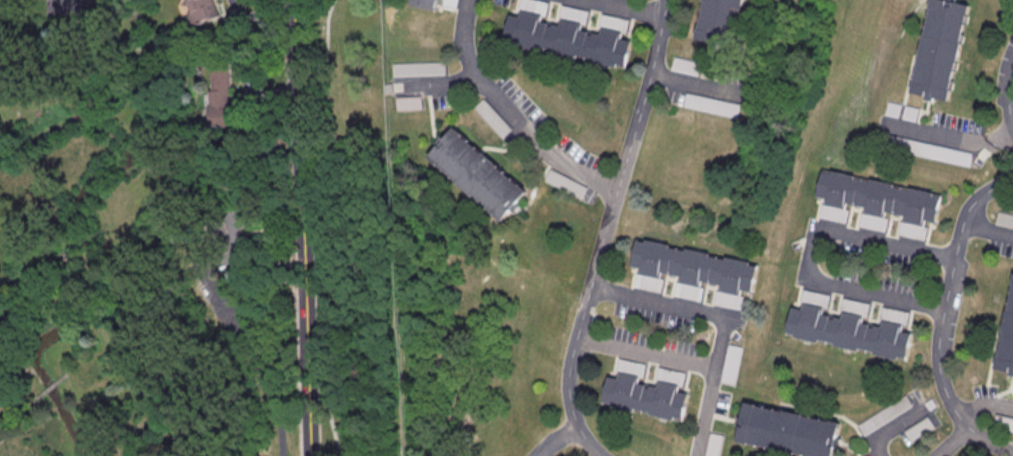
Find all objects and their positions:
building: (424, 4)
road: (622, 7)
building: (200, 10)
building: (718, 22)
building: (565, 40)
building: (937, 49)
building: (683, 66)
road: (693, 84)
building: (219, 92)
road: (1006, 95)
building: (709, 106)
building: (891, 109)
road: (510, 113)
building: (908, 113)
building: (492, 117)
road: (948, 139)
building: (923, 150)
building: (476, 175)
building: (566, 183)
building: (875, 198)
building: (1004, 220)
road: (299, 228)
road: (328, 228)
building: (230, 230)
road: (986, 230)
road: (602, 231)
road: (859, 236)
building: (691, 267)
road: (878, 295)
road: (682, 307)
road: (940, 318)
building: (846, 332)
building: (1006, 338)
road: (642, 354)
road: (248, 358)
building: (728, 364)
building: (643, 397)
road: (984, 404)
road: (702, 412)
building: (884, 415)
building: (1002, 423)
building: (919, 429)
road: (890, 430)
building: (786, 432)
road: (553, 440)
road: (950, 442)
building: (711, 445)

